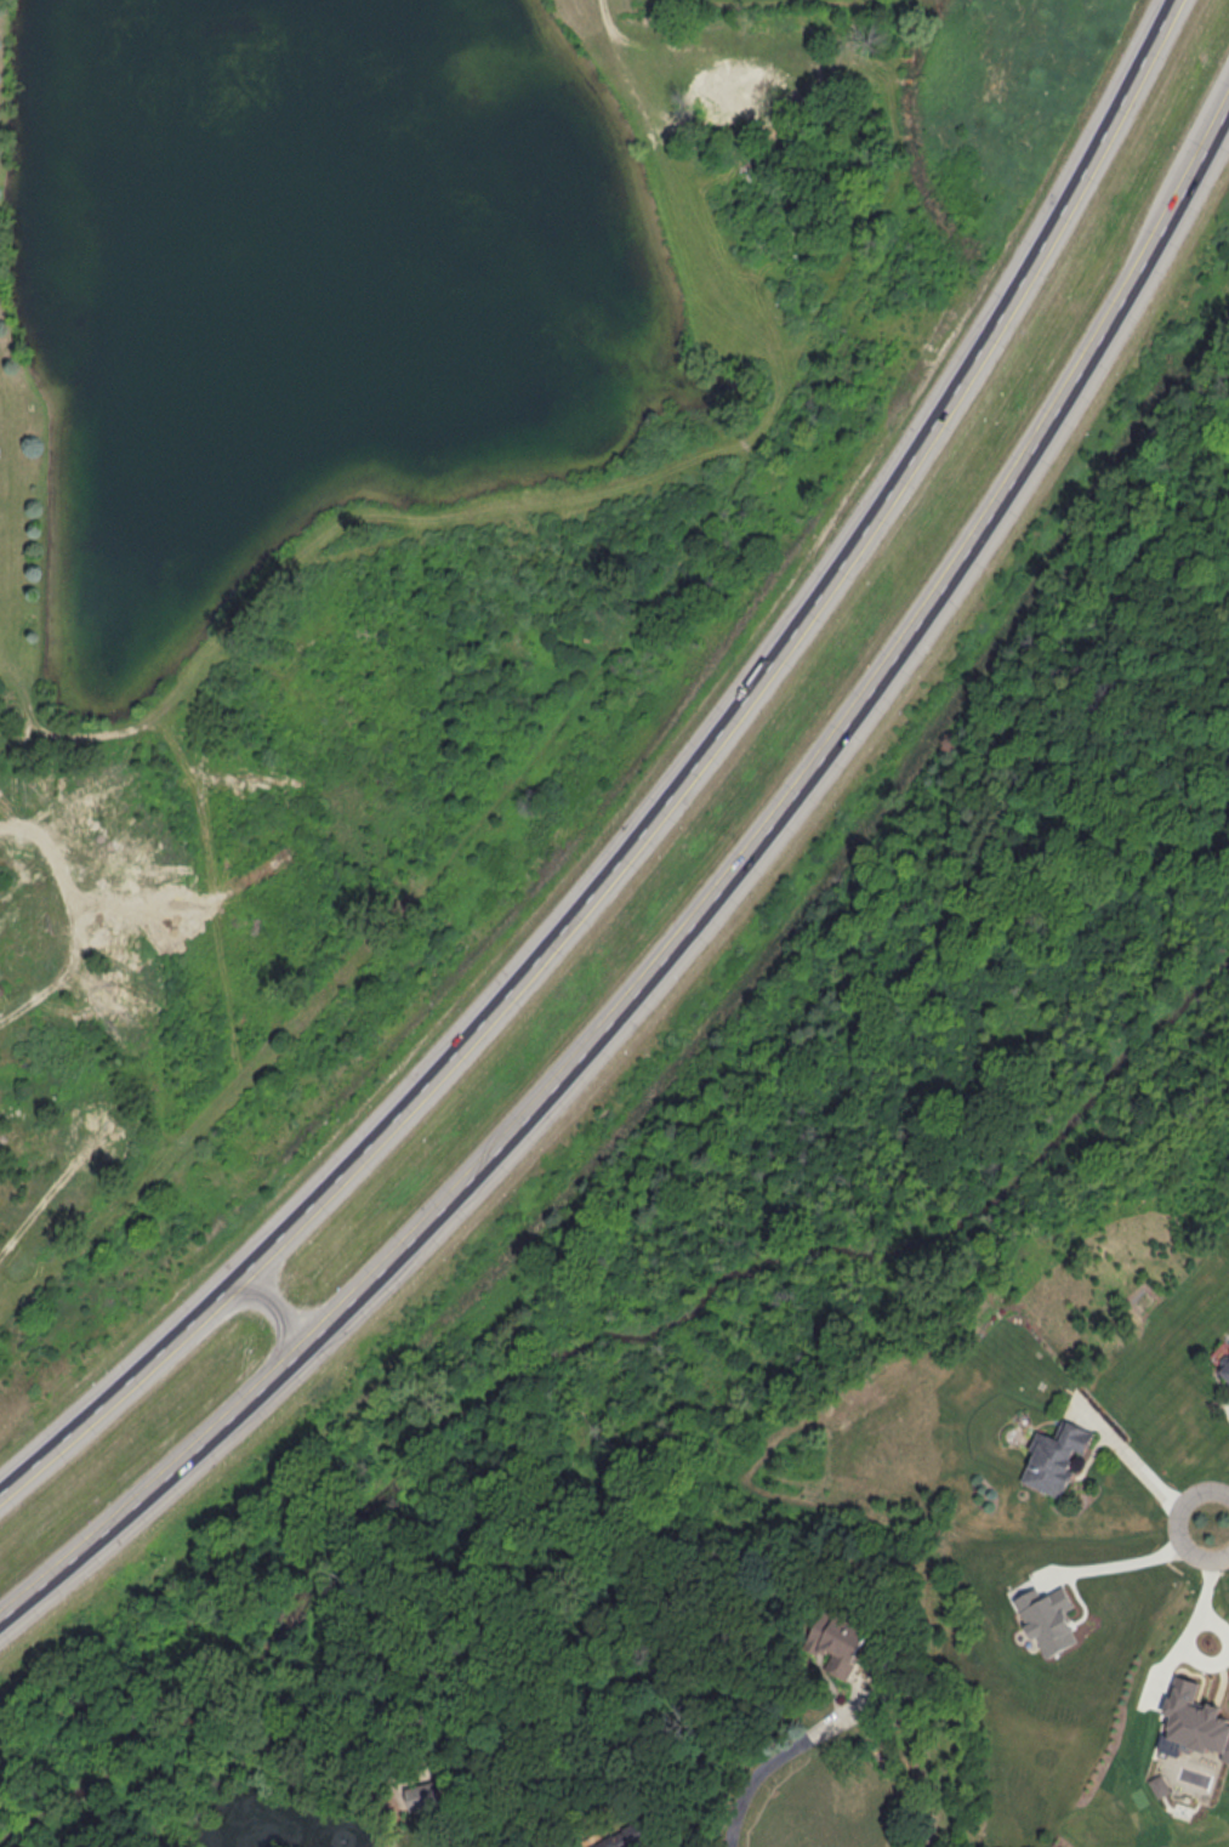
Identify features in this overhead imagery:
building: (757, 29)
park: (338, 552)
road: (673, 813)
road: (692, 933)
road: (279, 1312)
building: (1225, 1373)
building: (1056, 1457)
road: (1143, 1471)
road: (1221, 1519)
road: (1145, 1565)
road: (1194, 1613)
building: (844, 1643)
road: (758, 1779)
building: (423, 1796)
building: (641, 1840)

